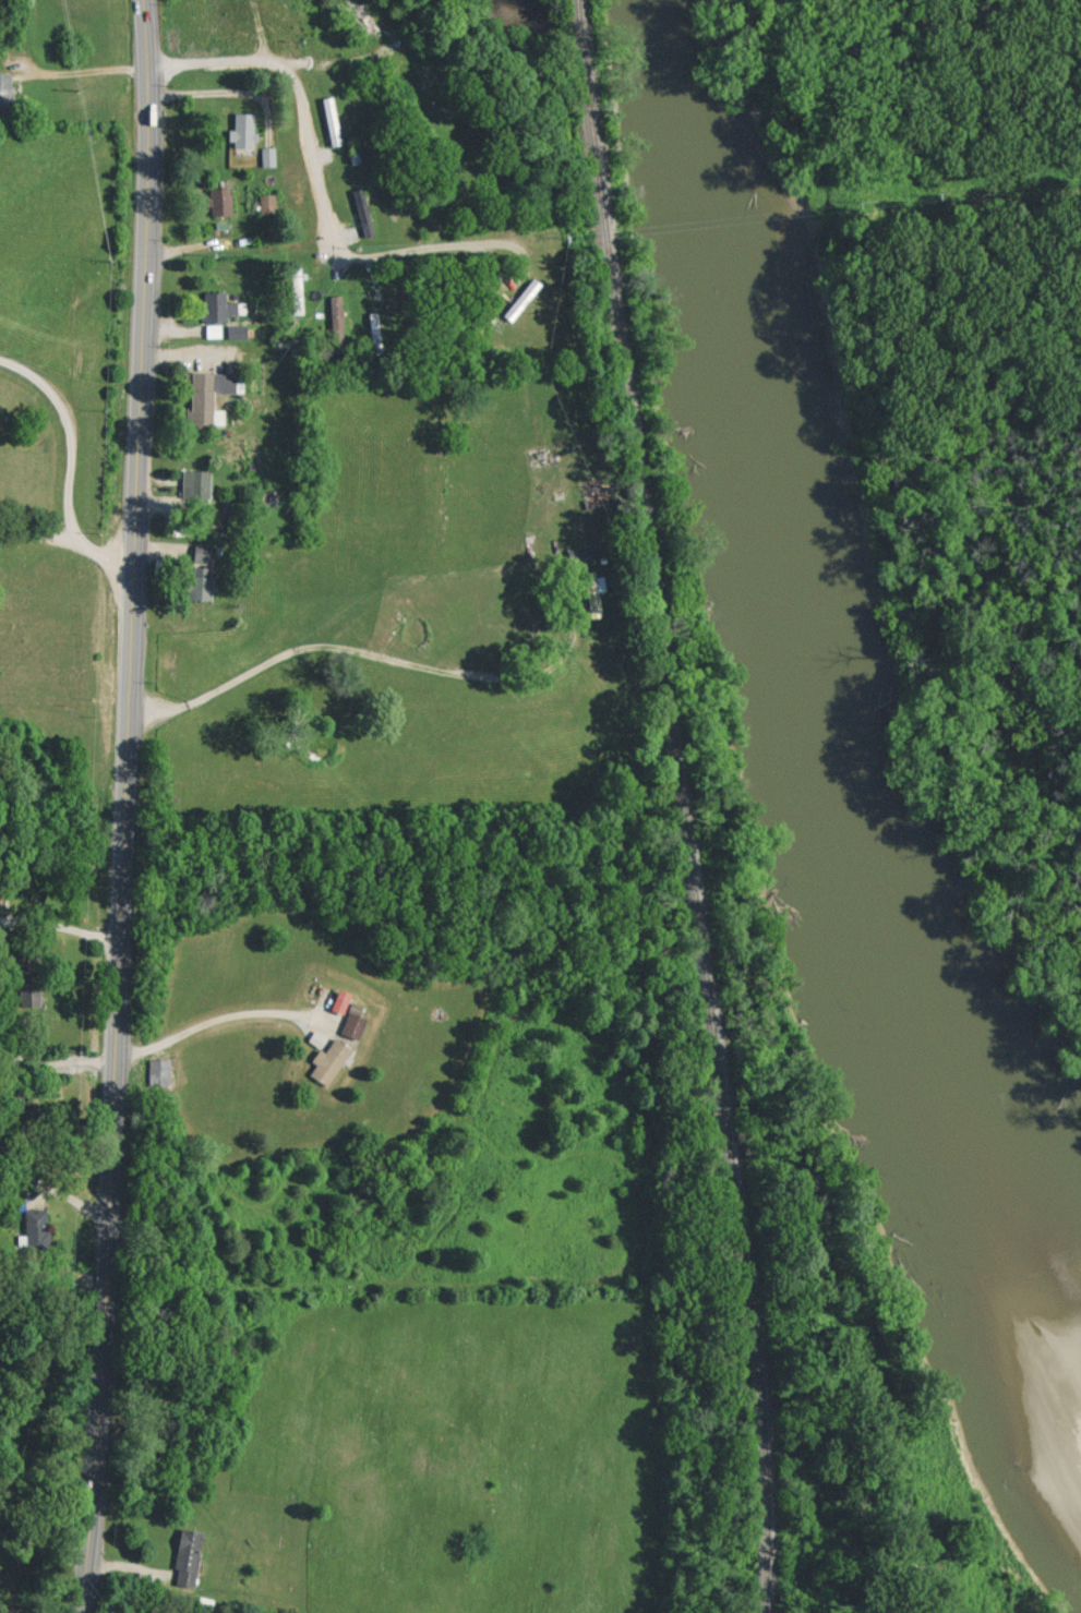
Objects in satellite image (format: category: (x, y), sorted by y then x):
road: (85, 71)
road: (303, 82)
building: (4, 89)
building: (331, 120)
building: (243, 130)
building: (267, 155)
building: (219, 200)
building: (267, 203)
building: (362, 212)
road: (433, 250)
building: (296, 289)
building: (217, 306)
building: (336, 318)
building: (213, 329)
building: (236, 330)
road: (70, 457)
building: (195, 483)
road: (44, 534)
building: (202, 552)
building: (579, 555)
building: (200, 582)
building: (593, 592)
river: (772, 654)
road: (127, 806)
railway: (683, 806)
building: (29, 995)
road: (224, 1018)
building: (352, 1023)
building: (328, 1060)
building: (159, 1071)
building: (36, 1227)
building: (188, 1556)

